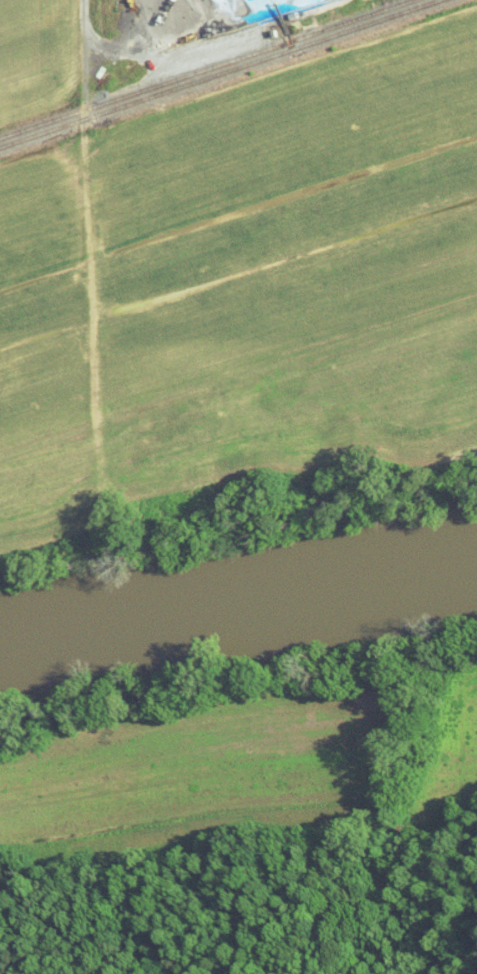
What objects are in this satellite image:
railway: (205, 69)
railway: (218, 72)
river: (239, 600)

